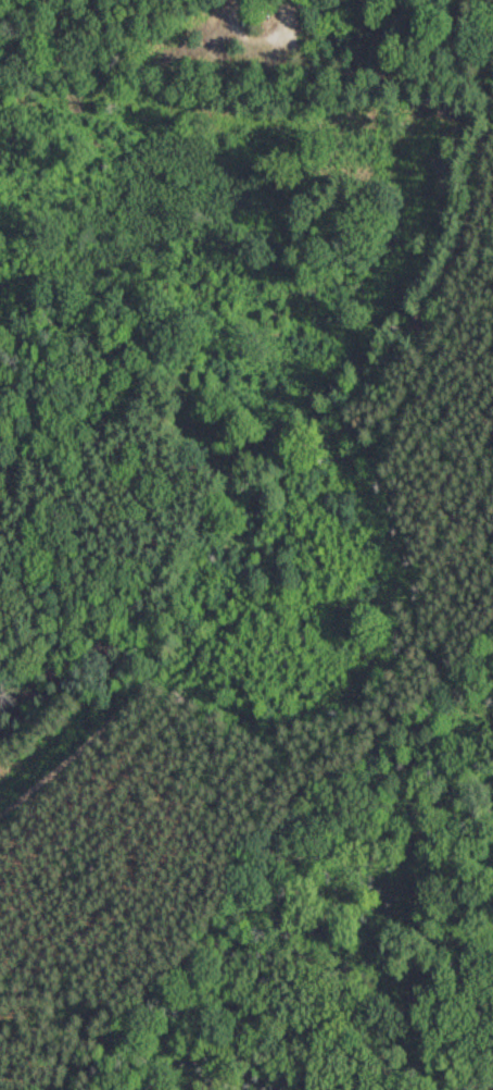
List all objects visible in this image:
road: (254, 694)

